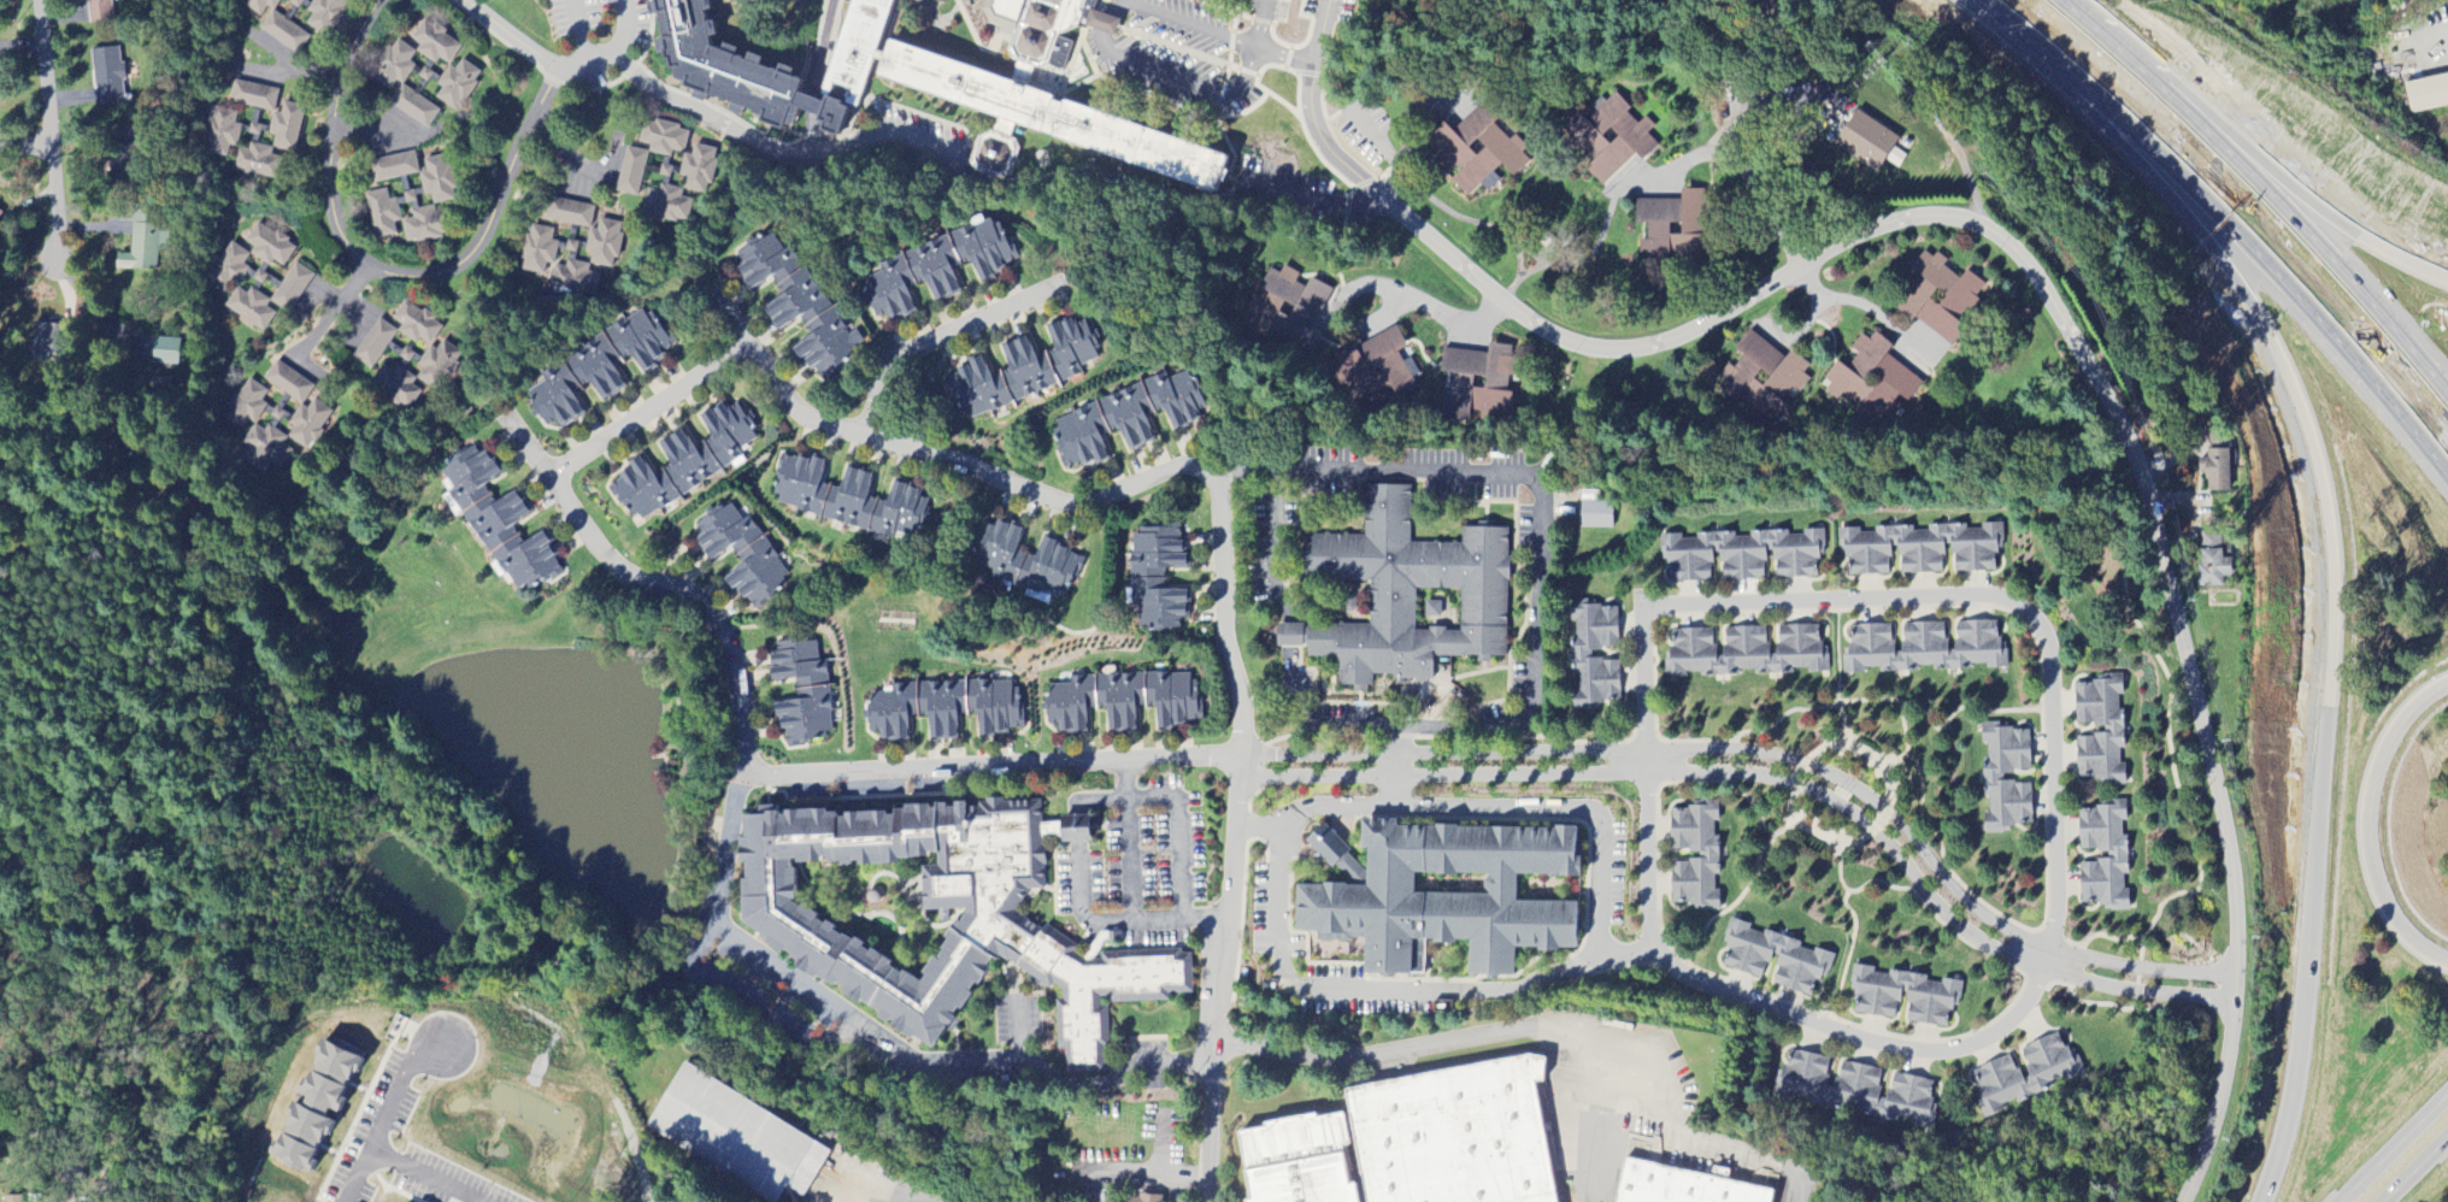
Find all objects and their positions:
building: (300, 4)
building: (101, 12)
building: (325, 14)
road: (1110, 20)
road: (1189, 23)
building: (276, 25)
building: (954, 31)
road: (573, 33)
building: (789, 33)
road: (1305, 36)
building: (434, 45)
road: (292, 57)
building: (393, 66)
road: (557, 69)
building: (428, 73)
building: (107, 76)
road: (1185, 77)
building: (940, 82)
building: (457, 86)
building: (2426, 94)
building: (252, 96)
road: (2184, 106)
building: (413, 107)
building: (254, 124)
road: (373, 126)
building: (286, 128)
road: (1402, 128)
building: (220, 132)
road: (48, 139)
building: (663, 139)
building: (1610, 139)
building: (1866, 142)
road: (24, 146)
road: (2126, 147)
building: (1477, 151)
road: (567, 158)
building: (255, 163)
building: (393, 167)
road: (1734, 167)
building: (631, 172)
road: (978, 184)
building: (681, 185)
building: (428, 201)
building: (569, 213)
building: (382, 214)
building: (1, 216)
road: (2224, 217)
building: (1672, 226)
building: (605, 243)
building: (269, 246)
road: (2375, 248)
building: (143, 251)
building: (537, 251)
building: (761, 263)
road: (2024, 263)
building: (228, 269)
building: (936, 270)
road: (378, 272)
building: (573, 279)
road: (2377, 294)
building: (269, 300)
building: (1941, 300)
road: (1425, 305)
building: (1287, 310)
road: (333, 312)
road: (1866, 313)
road: (728, 319)
building: (416, 325)
building: (812, 325)
road: (946, 332)
building: (639, 340)
building: (46, 342)
building: (373, 344)
building: (165, 352)
building: (1048, 360)
building: (437, 366)
building: (595, 370)
building: (1376, 373)
road: (700, 376)
building: (1763, 381)
building: (1872, 383)
building: (1478, 384)
building: (398, 388)
building: (975, 391)
building: (1173, 399)
building: (554, 401)
building: (246, 406)
building: (300, 407)
building: (1125, 418)
building: (1079, 440)
building: (265, 449)
building: (687, 462)
building: (2217, 465)
building: (800, 485)
building: (848, 500)
building: (899, 513)
building: (1595, 515)
building: (496, 524)
building: (724, 535)
road: (1273, 547)
building: (1922, 549)
building: (999, 550)
building: (1740, 556)
building: (1052, 568)
building: (2212, 568)
building: (757, 576)
building: (1157, 578)
building: (1406, 596)
road: (1535, 623)
road: (1289, 635)
building: (1923, 648)
road: (1640, 650)
building: (1744, 650)
building: (1579, 654)
building: (801, 693)
building: (1147, 700)
building: (1069, 705)
building: (994, 707)
building: (940, 708)
building: (890, 713)
road: (2326, 715)
road: (1310, 725)
building: (2112, 731)
road: (1770, 758)
road: (985, 765)
road: (1769, 778)
building: (1993, 778)
road: (730, 789)
road: (1096, 800)
road: (1566, 809)
road: (2366, 823)
road: (1234, 829)
road: (1077, 830)
road: (1176, 832)
building: (1707, 856)
building: (2117, 856)
building: (1337, 858)
road: (1128, 885)
building: (1444, 896)
road: (1079, 908)
building: (928, 914)
building: (1773, 959)
road: (1393, 986)
building: (1903, 997)
road: (1541, 1029)
road: (893, 1045)
building: (2024, 1074)
building: (1828, 1083)
building: (1908, 1101)
building: (313, 1104)
road: (367, 1119)
building: (1454, 1136)
building: (737, 1137)
road: (2393, 1147)
building: (1296, 1165)
road: (2415, 1168)
road: (401, 1177)
road: (95, 1179)
building: (1679, 1185)
road: (913, 1198)
building: (1142, 1198)
building: (11, 1200)

